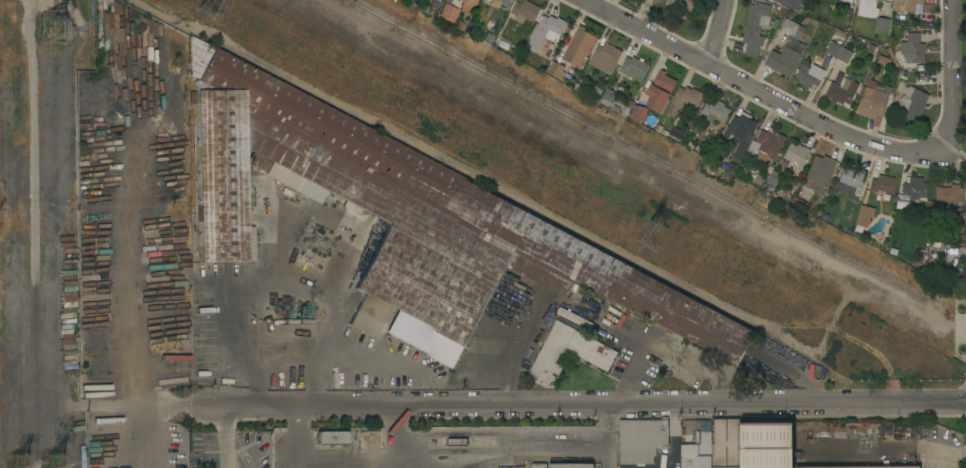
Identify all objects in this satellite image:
building: (658, 0)
building: (772, 0)
power tower: (209, 1)
building: (847, 1)
building: (503, 2)
building: (467, 4)
building: (791, 4)
building: (434, 5)
building: (913, 6)
building: (681, 7)
building: (524, 11)
building: (448, 13)
building: (873, 14)
building: (755, 27)
building: (546, 31)
road: (715, 32)
power tower: (59, 34)
building: (487, 38)
building: (502, 43)
building: (579, 46)
building: (517, 48)
building: (870, 48)
building: (787, 49)
building: (912, 49)
building: (845, 55)
building: (604, 57)
building: (882, 59)
building: (633, 67)
building: (555, 70)
building: (809, 74)
building: (839, 77)
building: (659, 91)
building: (841, 91)
building: (607, 97)
building: (684, 99)
building: (871, 103)
building: (913, 103)
building: (626, 108)
building: (715, 111)
building: (638, 113)
building: (659, 128)
road: (828, 130)
building: (664, 133)
building: (739, 134)
building: (766, 143)
building: (690, 145)
building: (797, 154)
railway: (647, 157)
building: (784, 163)
building: (732, 167)
building: (820, 170)
building: (853, 178)
building: (759, 180)
building: (771, 182)
building: (883, 184)
building: (915, 189)
building: (807, 192)
building: (949, 193)
building: (864, 216)
building: (402, 220)
power tower: (651, 233)
building: (324, 252)
road: (282, 286)
building: (574, 318)
building: (205, 331)
building: (591, 351)
road: (414, 369)
road: (504, 369)
road: (628, 379)
road: (796, 379)
road: (716, 385)
road: (586, 402)
road: (153, 415)
road: (302, 430)
road: (398, 430)
road: (228, 434)
building: (333, 438)
building: (642, 440)
building: (757, 445)
road: (495, 452)
building: (697, 452)
power tower: (27, 462)
road: (307, 463)
power tower: (61, 464)
building: (539, 465)
building: (571, 465)

